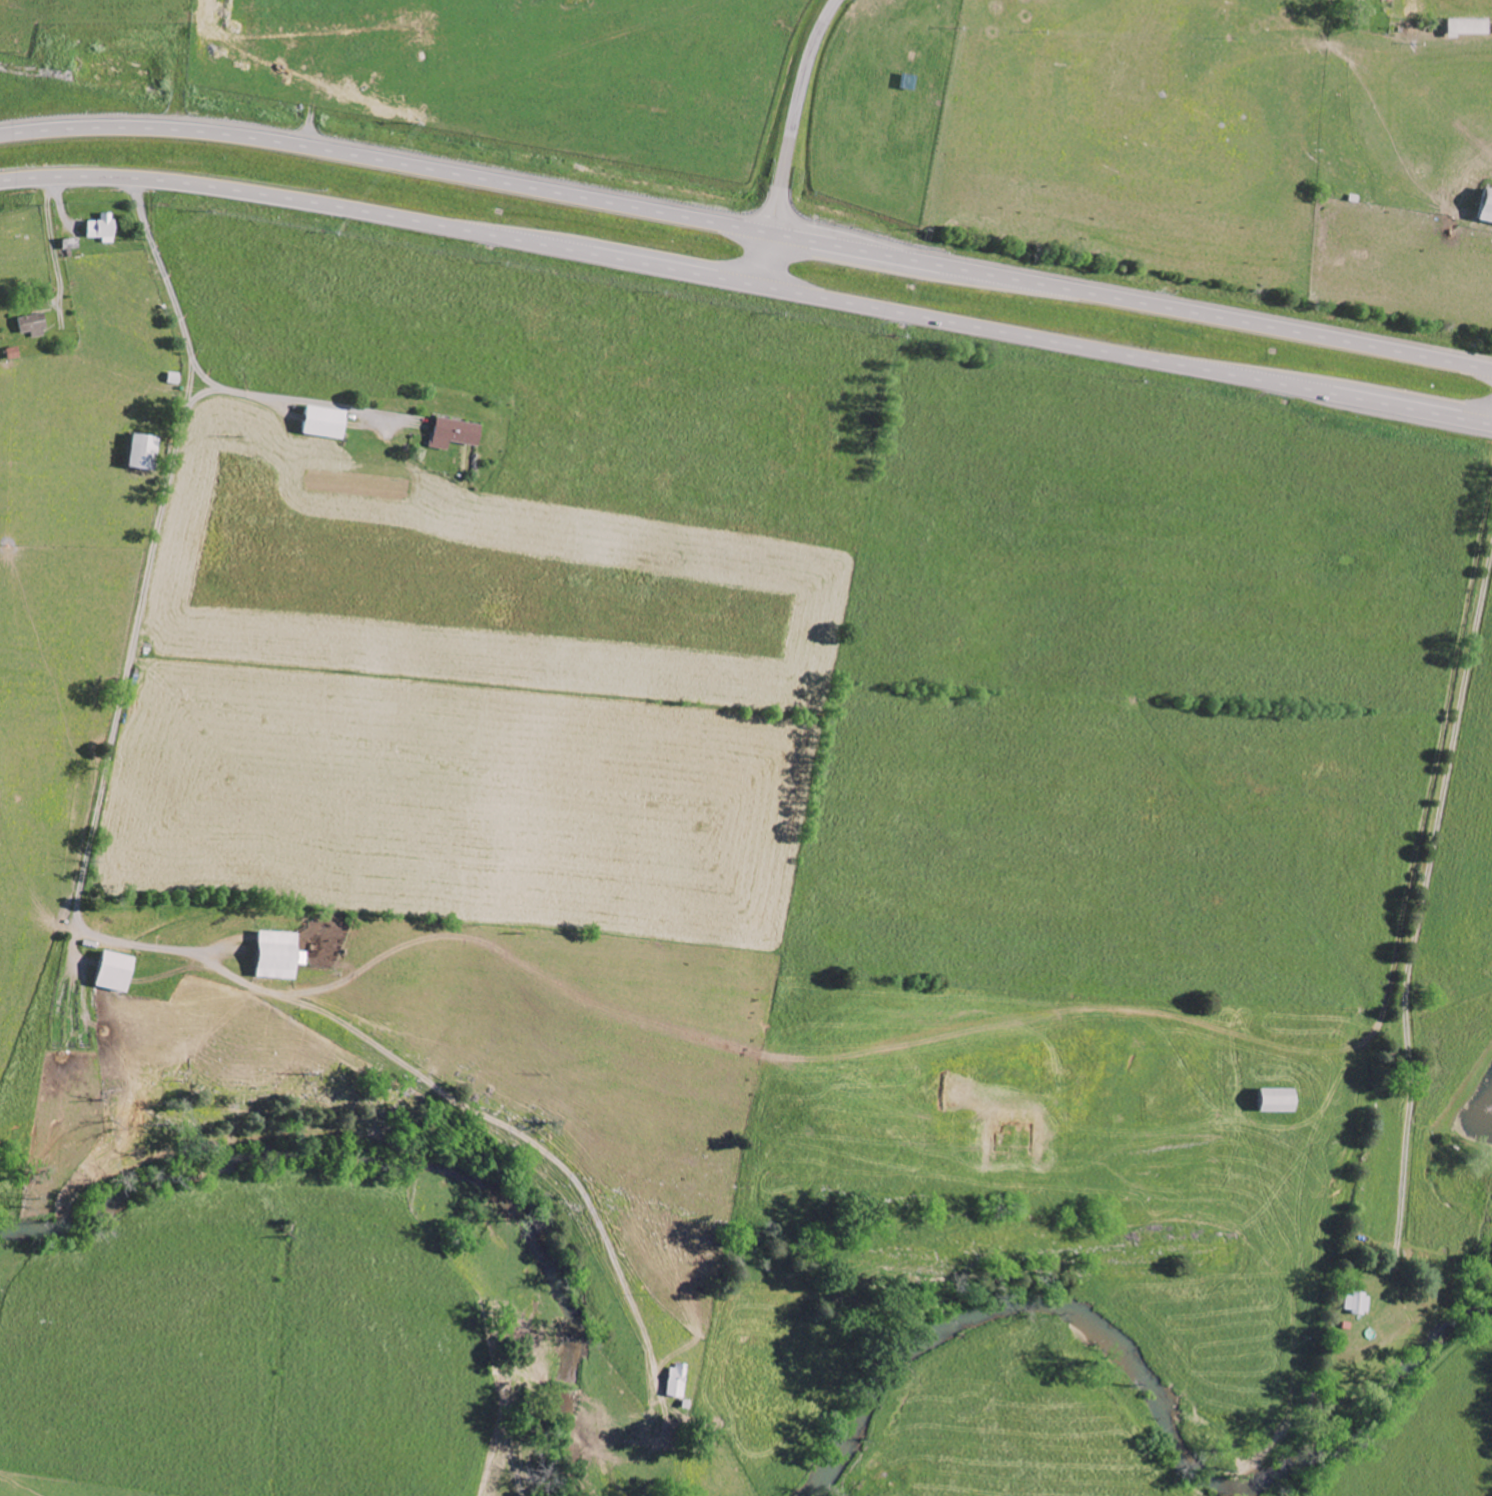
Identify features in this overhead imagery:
road: (789, 140)
road: (748, 229)
road: (747, 283)
road: (304, 401)
road: (1433, 774)
road: (1422, 906)
road: (76, 907)

